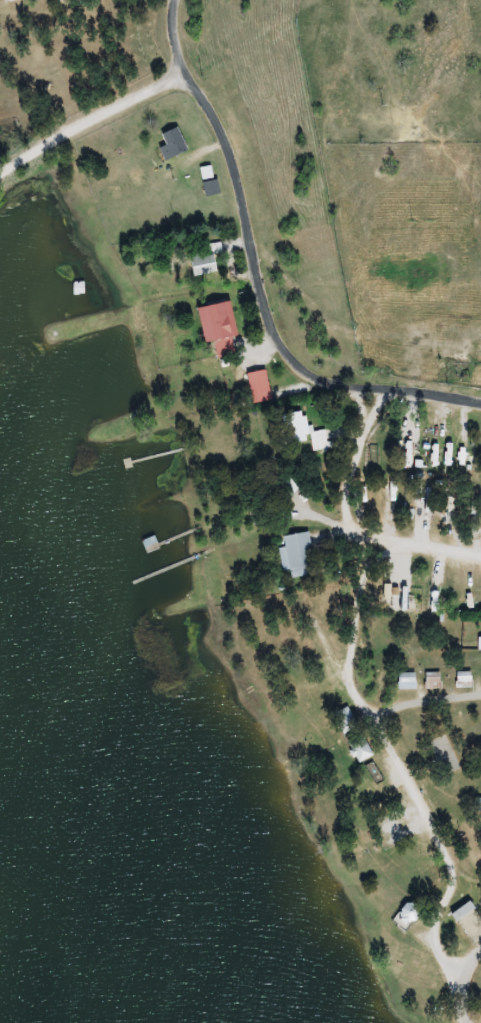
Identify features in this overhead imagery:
road: (151, 40)
road: (146, 83)
building: (175, 144)
building: (211, 181)
building: (194, 266)
road: (259, 317)
building: (220, 328)
building: (304, 432)
road: (298, 506)
road: (393, 534)
building: (299, 556)
building: (465, 680)
building: (408, 681)
building: (434, 681)
road: (415, 724)
building: (362, 750)
building: (465, 912)
building: (411, 914)
road: (462, 993)

